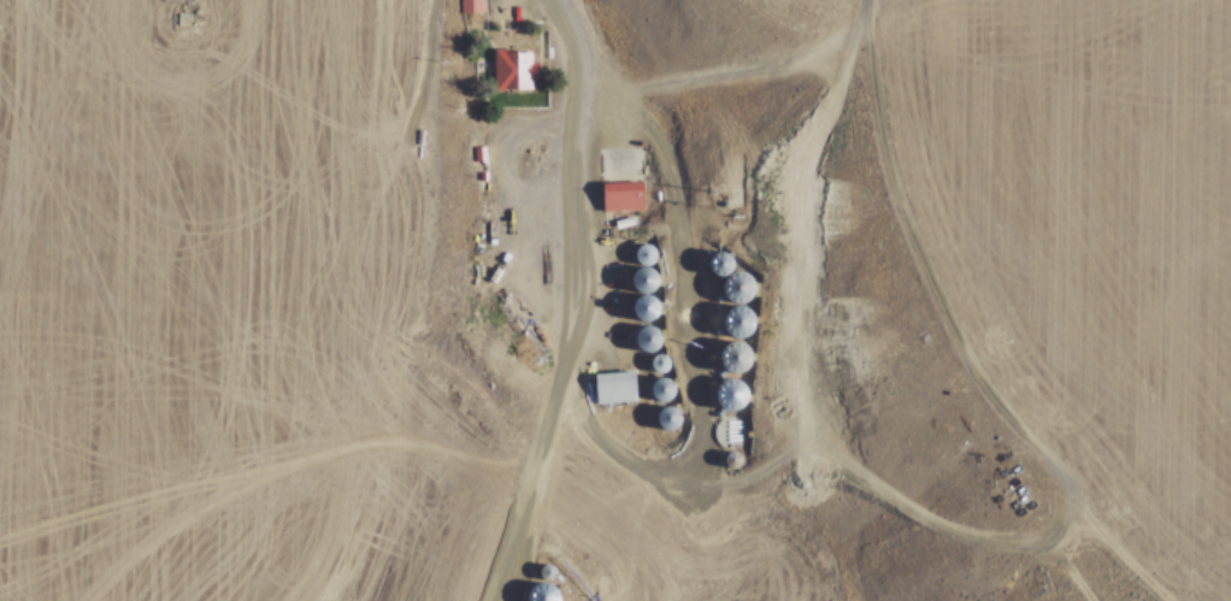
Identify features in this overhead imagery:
building: (469, 7)
building: (513, 70)
building: (624, 196)
building: (647, 254)
building: (721, 265)
building: (648, 293)
building: (740, 322)
building: (737, 358)
building: (664, 390)
building: (671, 419)
building: (546, 594)

